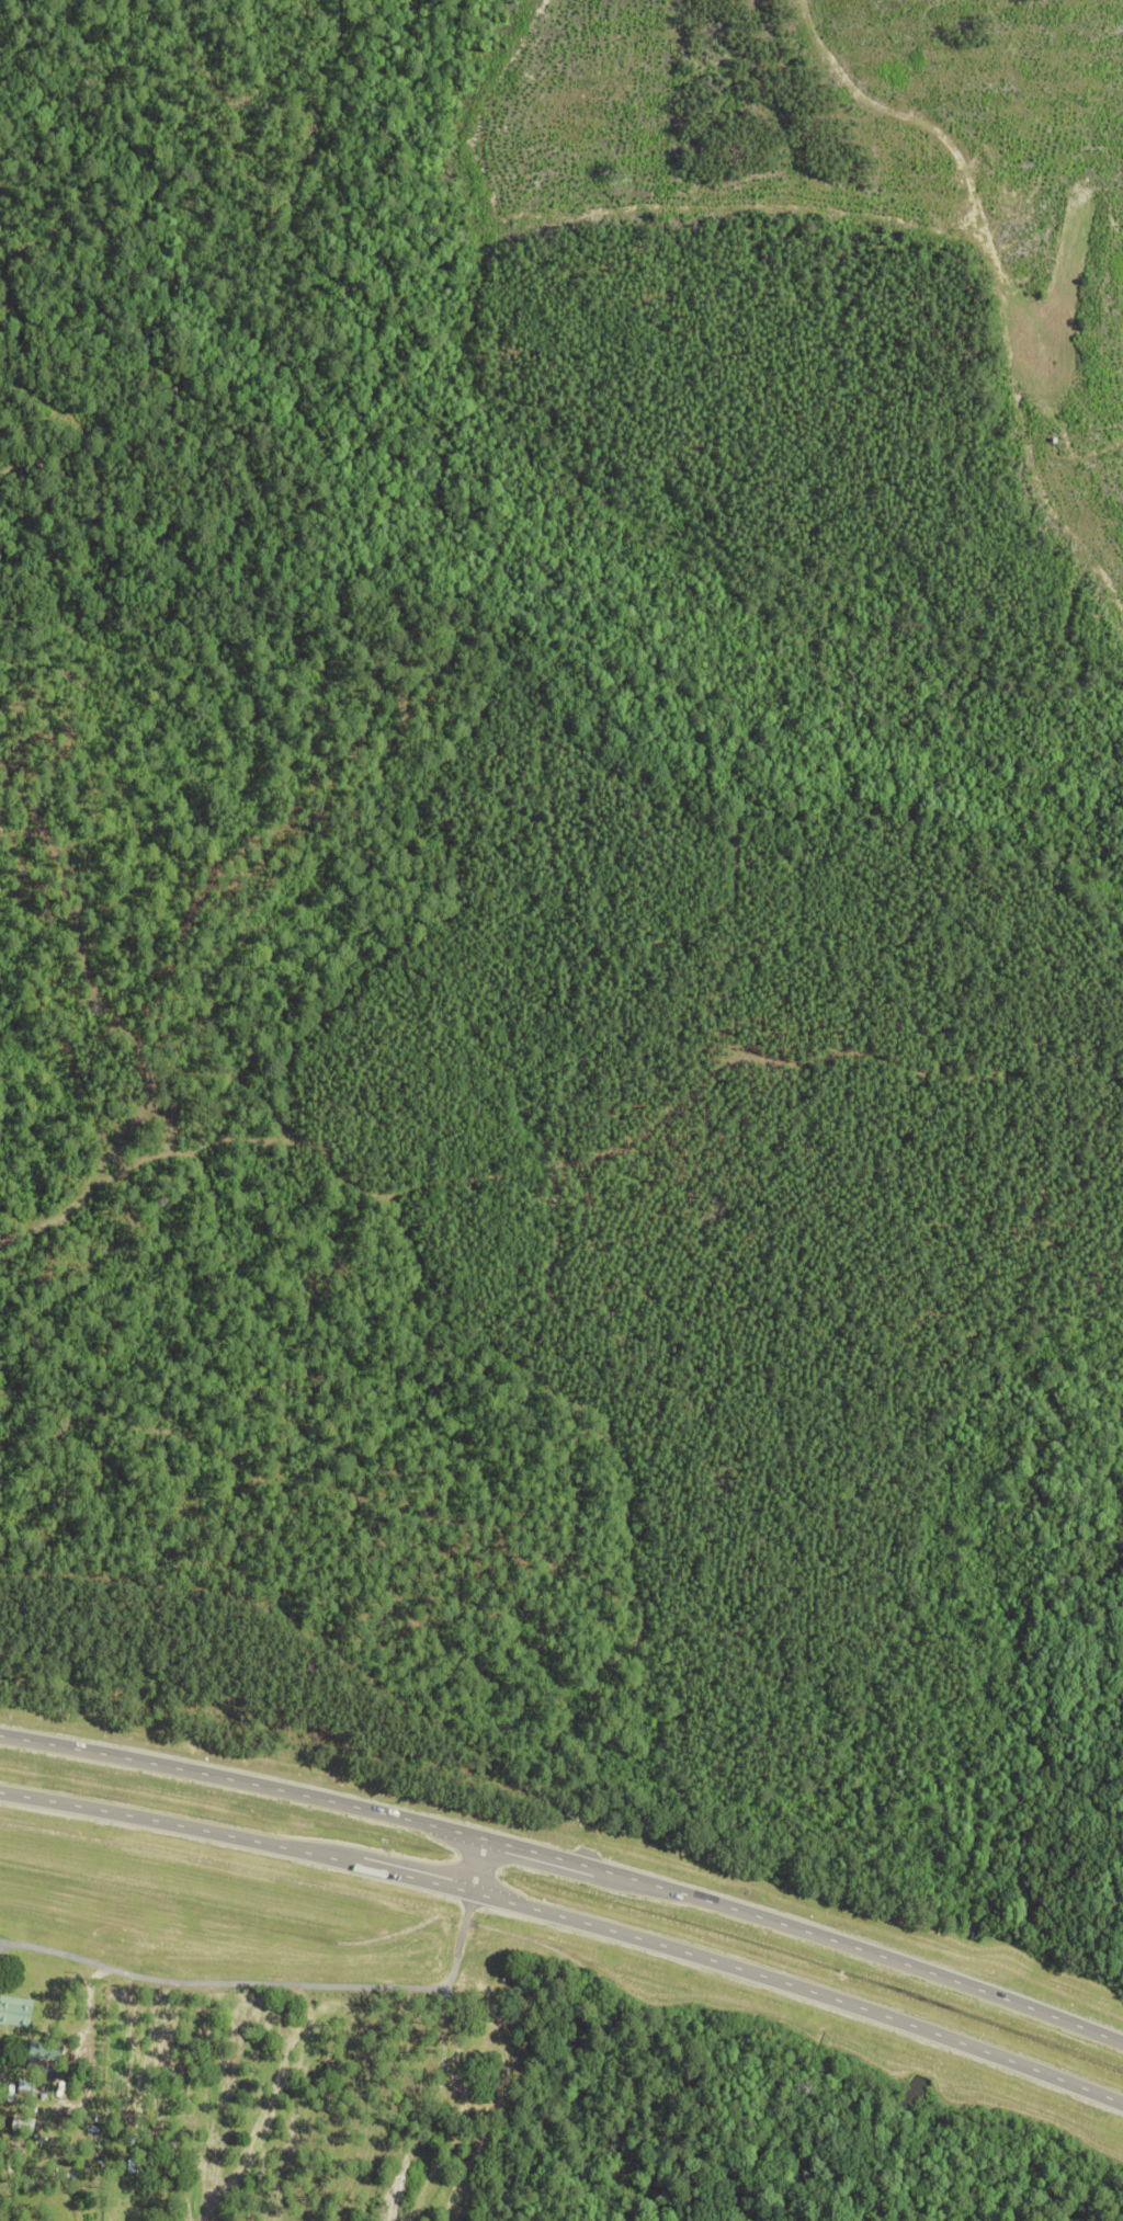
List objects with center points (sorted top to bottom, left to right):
road: (568, 1861)
road: (479, 1865)
road: (569, 1918)
road: (281, 1983)
building: (15, 2011)
building: (46, 2052)

